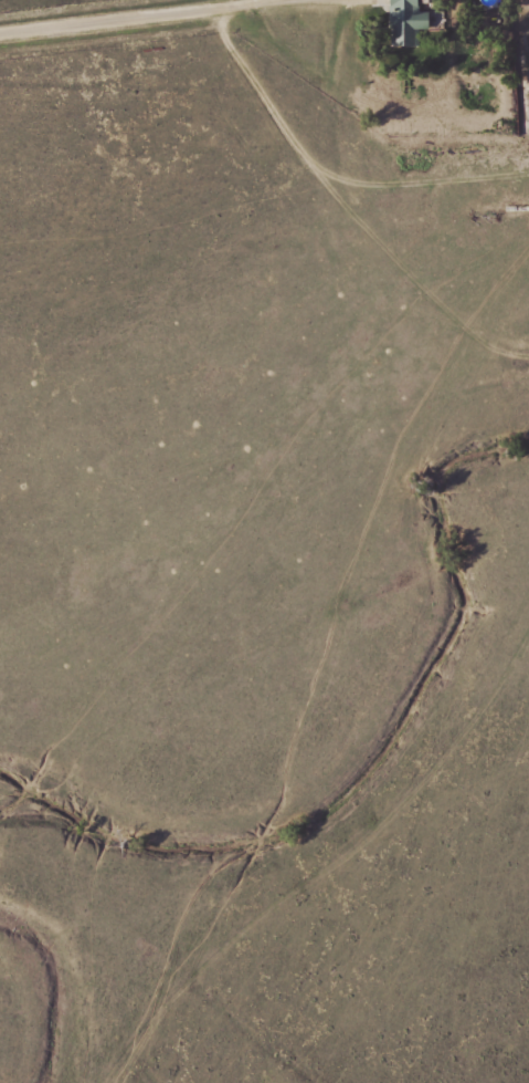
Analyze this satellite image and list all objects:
road: (123, 15)

